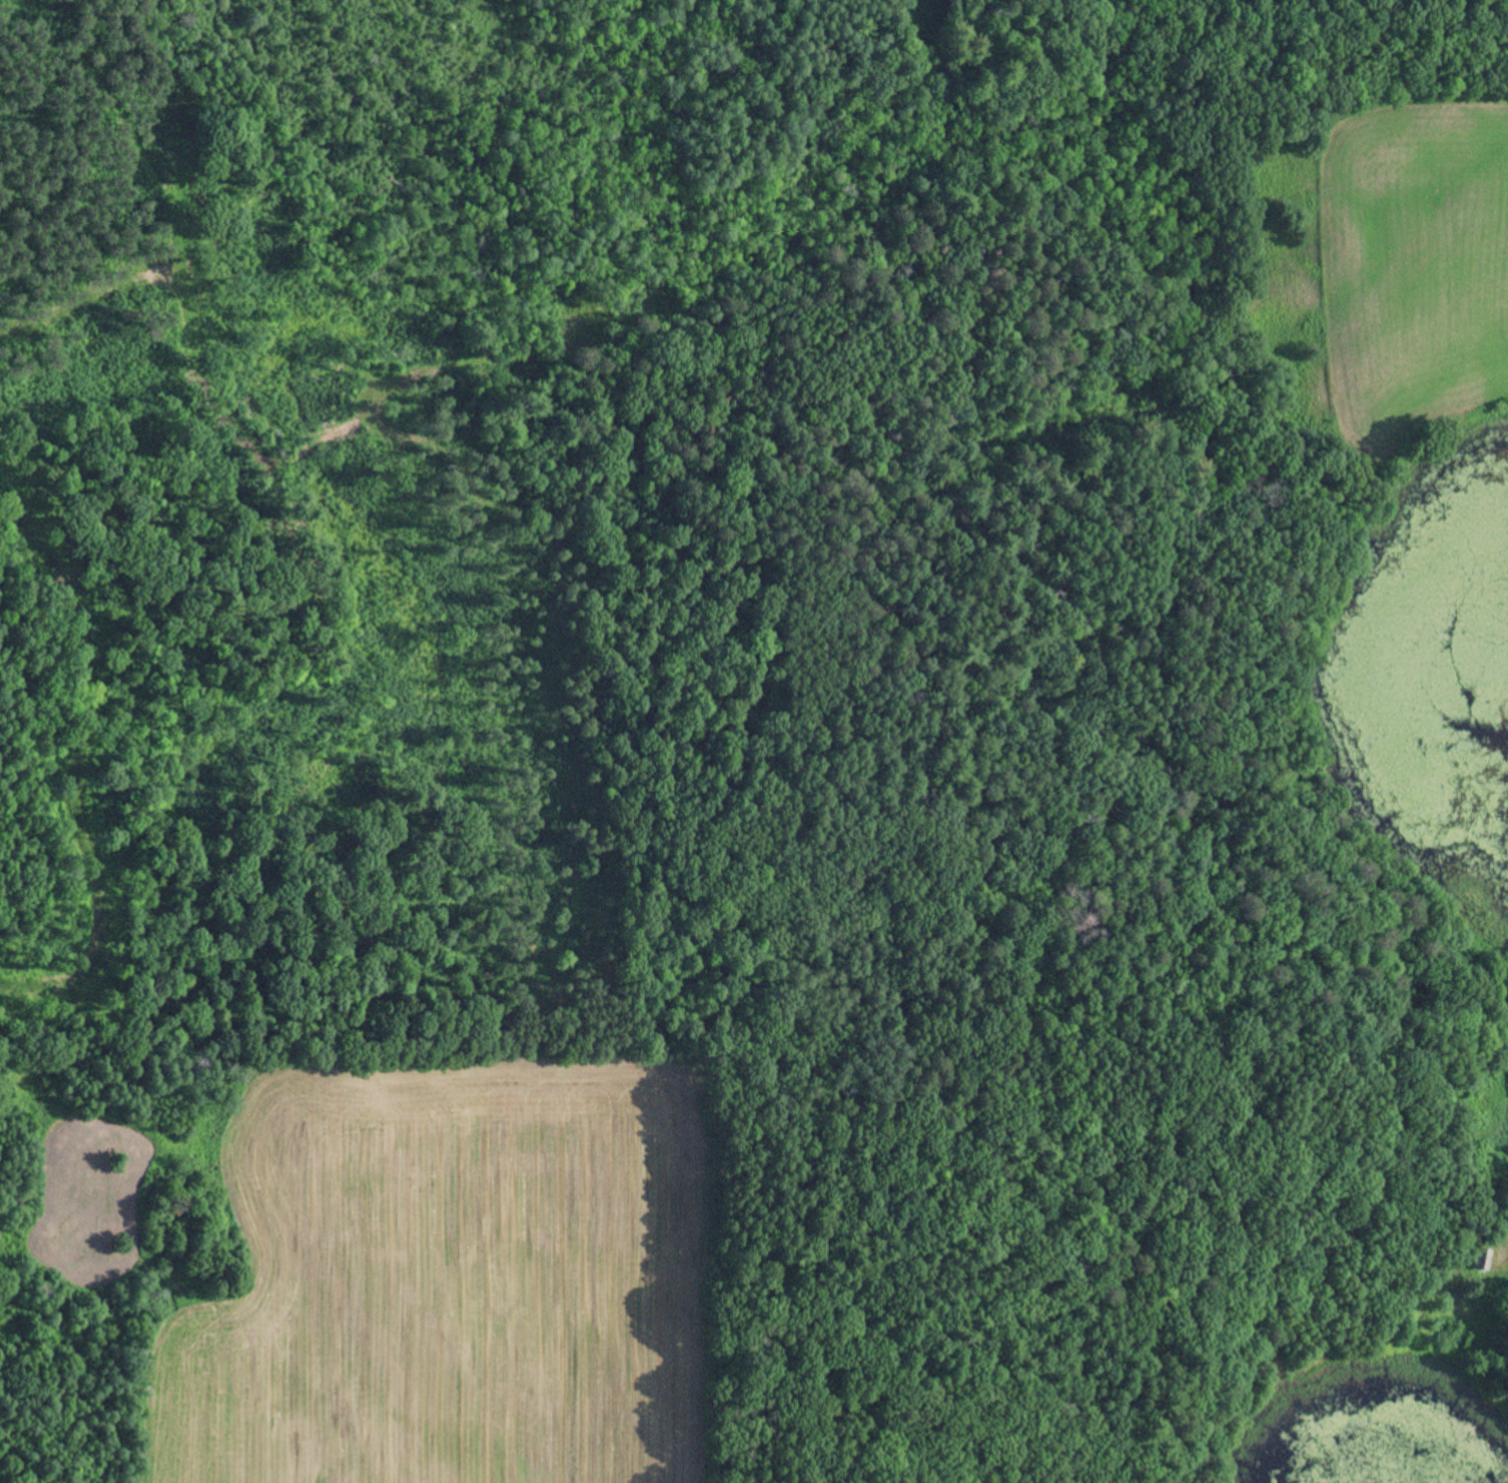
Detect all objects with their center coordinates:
building: (1481, 1260)

